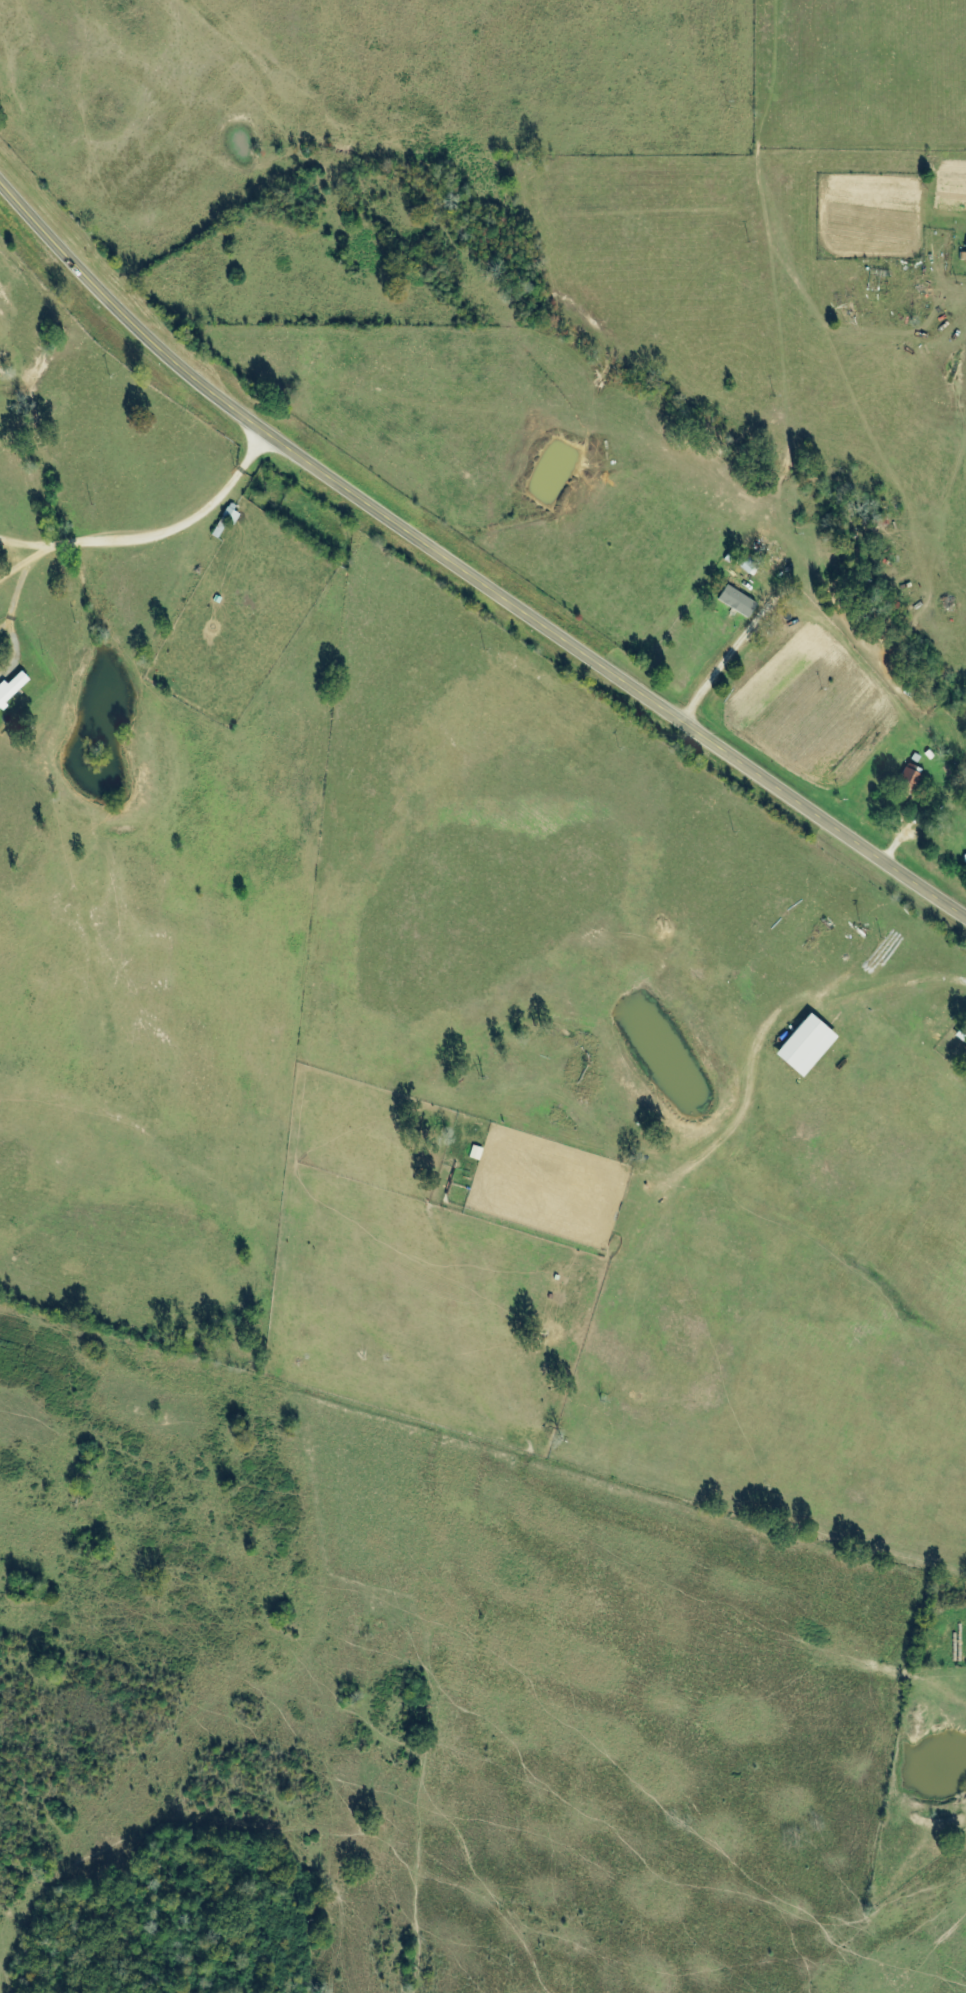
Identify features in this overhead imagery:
building: (965, 251)
road: (461, 558)
building: (745, 562)
building: (736, 601)
building: (11, 688)
building: (908, 781)
building: (803, 1045)

